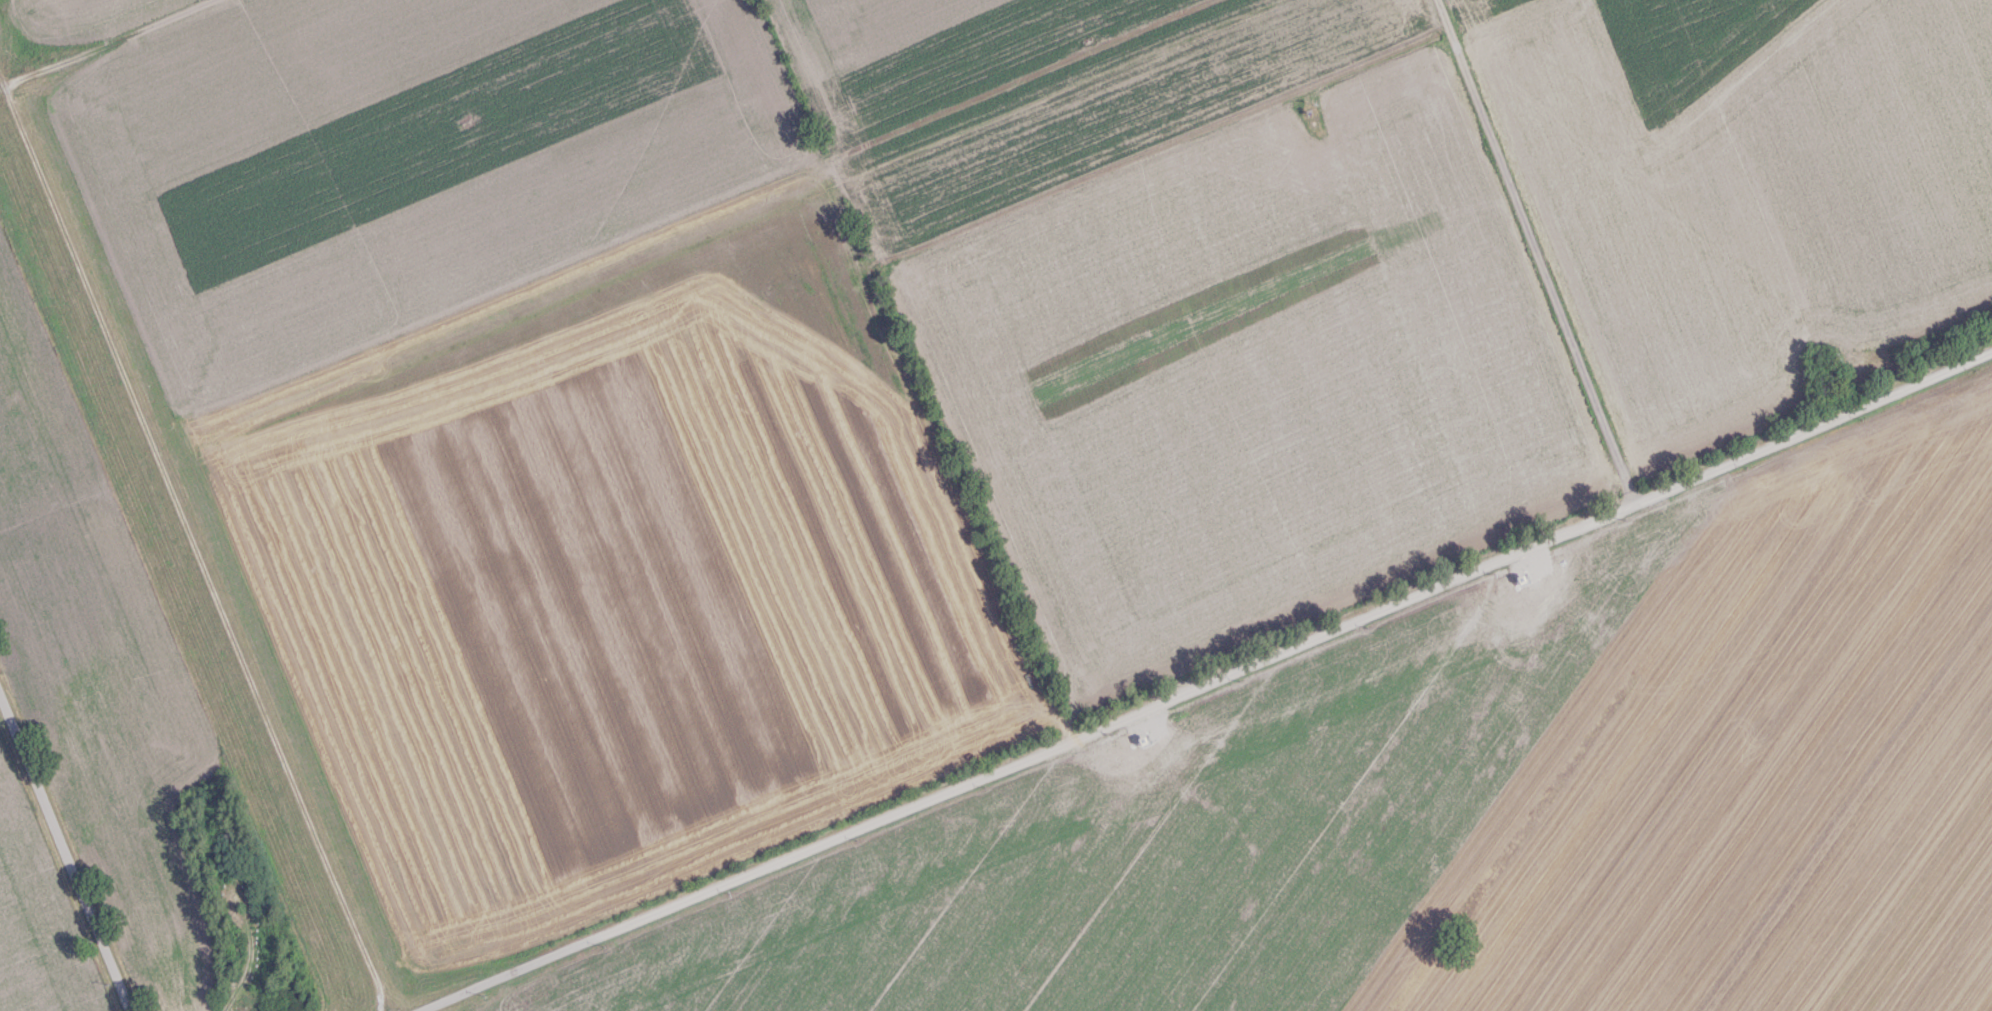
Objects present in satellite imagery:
road: (1204, 682)
road: (36, 771)
road: (102, 935)

